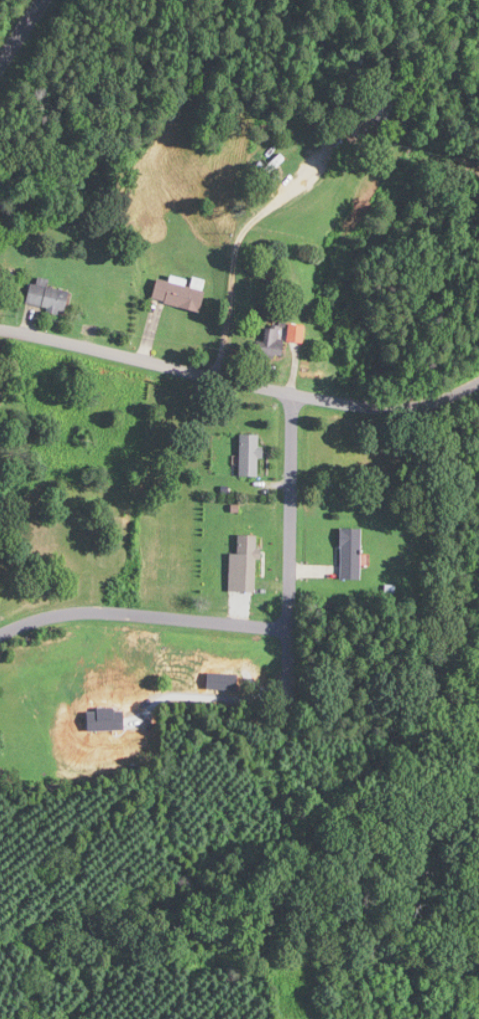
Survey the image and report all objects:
road: (21, 31)
building: (379, 107)
building: (275, 164)
road: (241, 231)
building: (178, 295)
building: (47, 296)
building: (295, 333)
building: (271, 343)
road: (240, 382)
building: (0, 408)
building: (249, 455)
road: (290, 549)
building: (350, 553)
building: (248, 556)
road: (142, 614)

